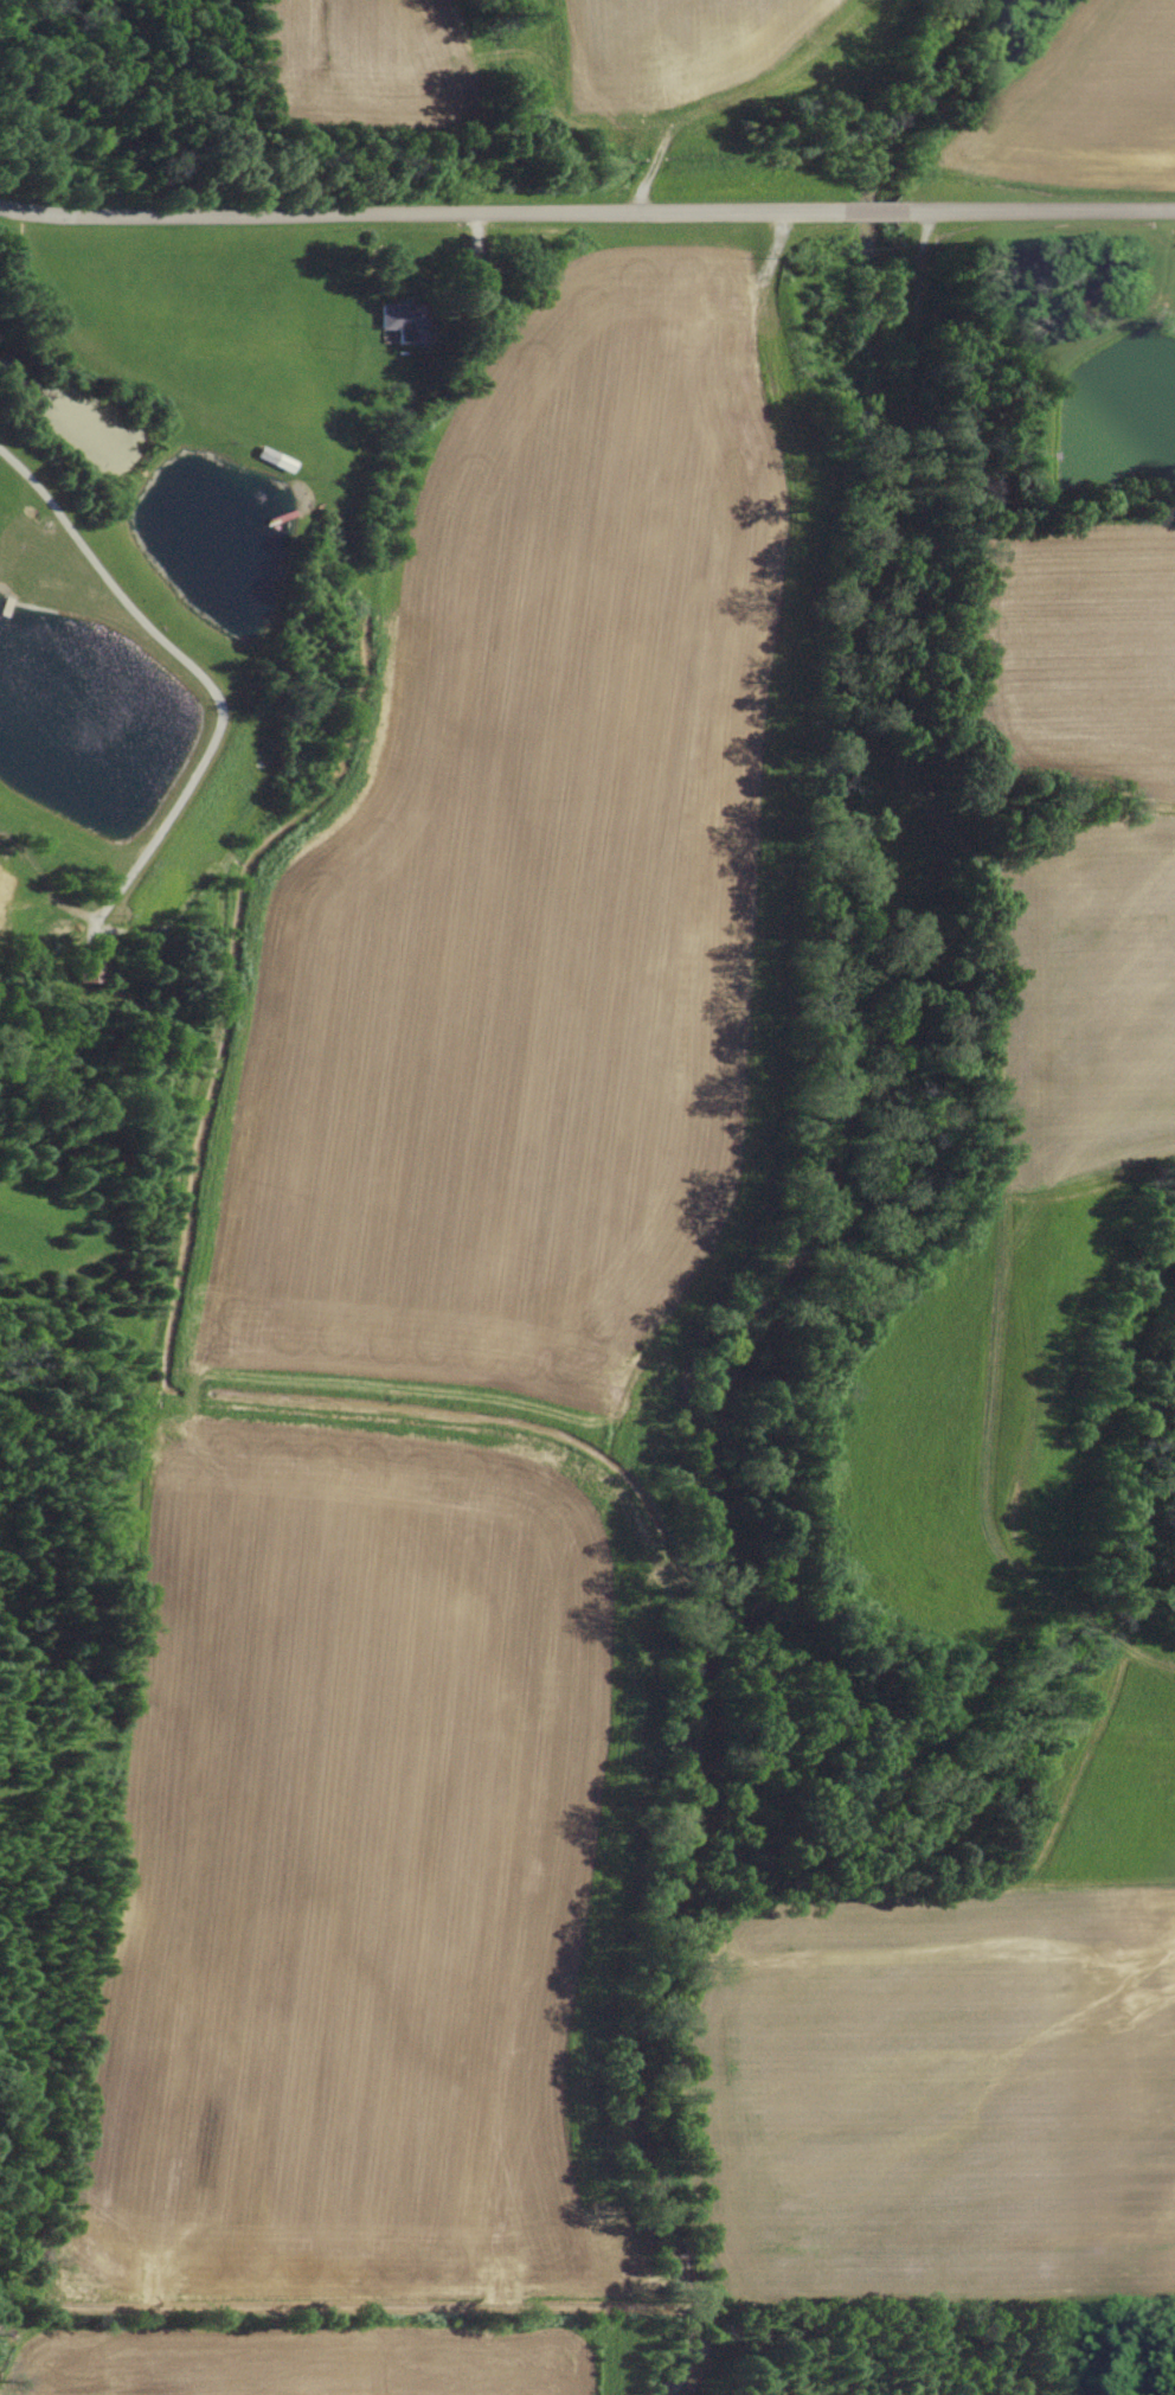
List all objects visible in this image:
road: (648, 177)
road: (1029, 211)
road: (872, 213)
road: (429, 223)
road: (475, 246)
building: (392, 331)
building: (268, 467)
pier: (276, 524)
pier: (4, 613)
road: (190, 675)
building: (84, 968)
road: (165, 1283)
crop: (445, 1332)
road: (52, 1656)
road: (23, 1689)

